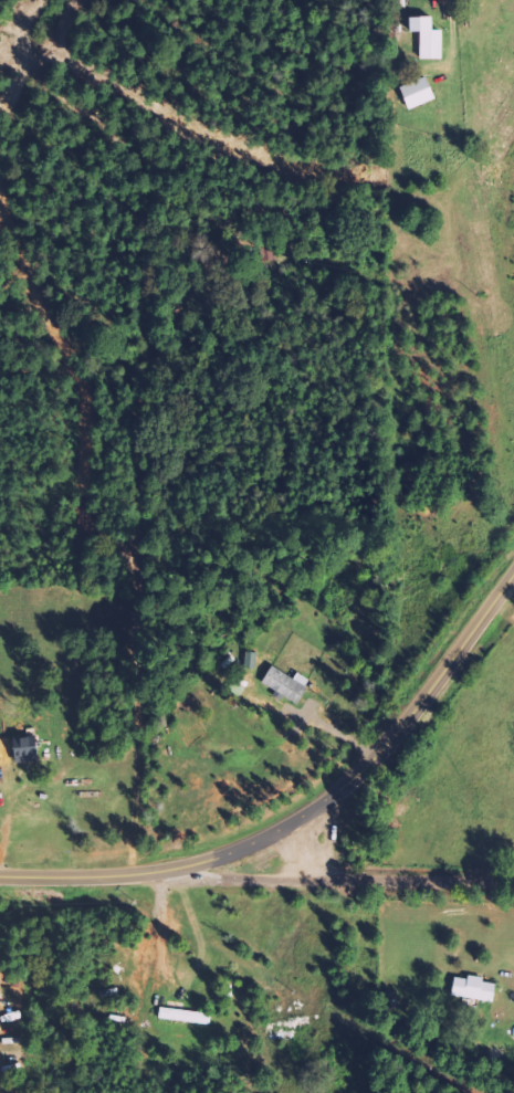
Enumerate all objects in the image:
building: (428, 38)
building: (418, 93)
building: (287, 683)
building: (28, 749)
road: (304, 819)
road: (387, 879)
building: (474, 987)
building: (187, 1016)

